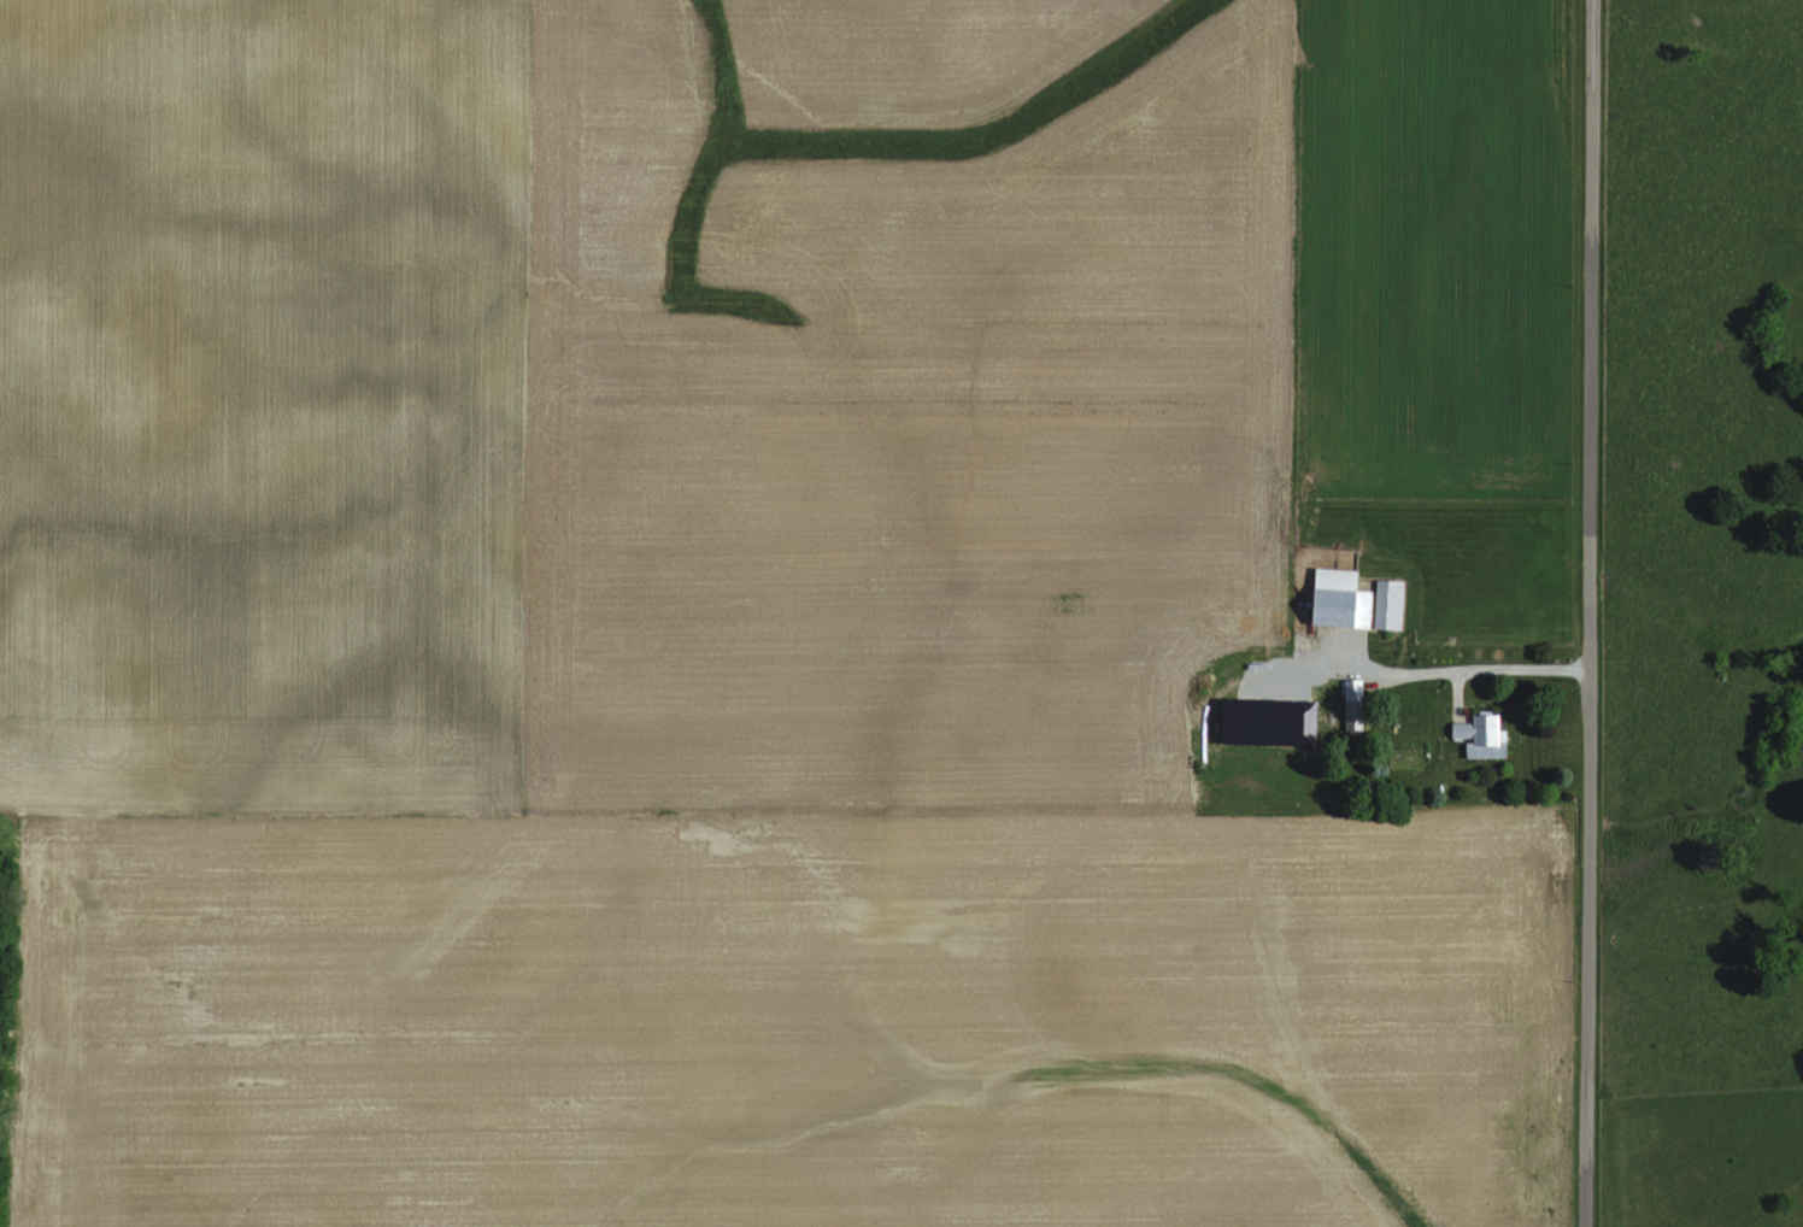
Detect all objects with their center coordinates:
building: (1343, 598)
building: (1391, 604)
road: (1587, 613)
building: (1355, 704)
building: (1485, 736)

